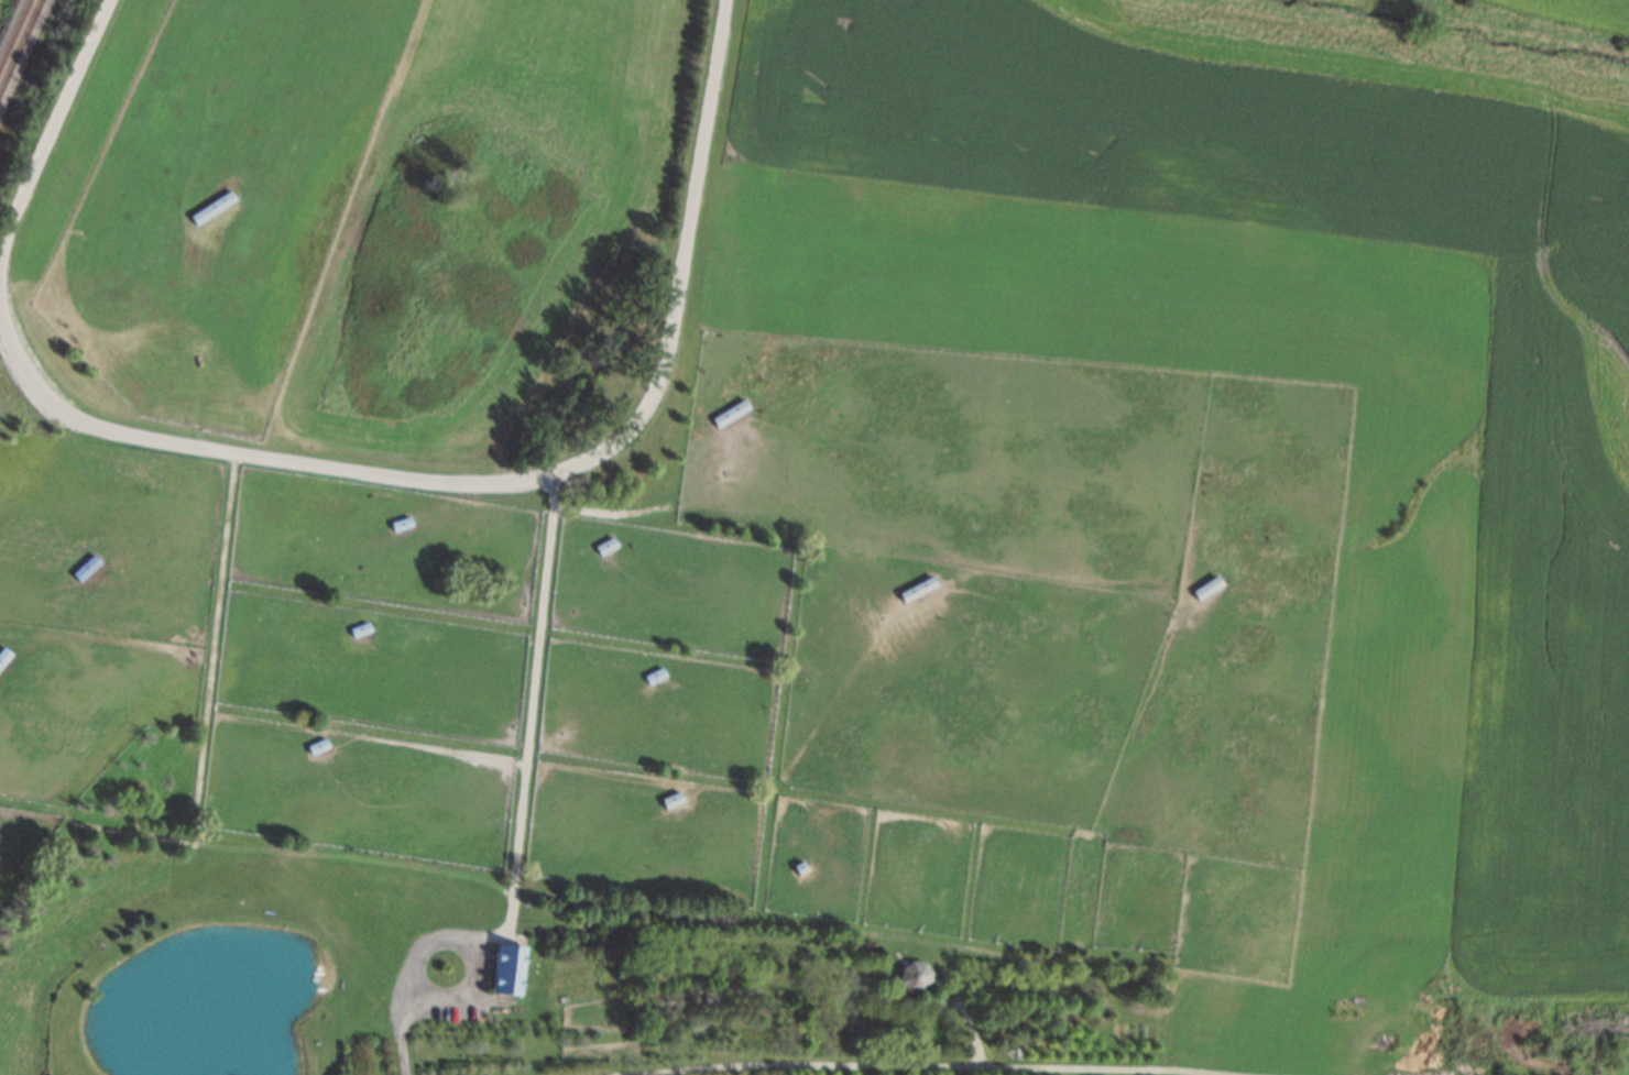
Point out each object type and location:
railway: (14, 32)
railway: (20, 45)
building: (211, 208)
building: (731, 413)
road: (352, 470)
building: (402, 525)
building: (606, 547)
building: (86, 569)
building: (1206, 589)
building: (918, 590)
building: (362, 632)
building: (3, 657)
building: (656, 678)
road: (529, 719)
building: (318, 747)
building: (673, 800)
building: (799, 867)
road: (473, 942)
building: (507, 968)
road: (969, 1022)
road: (403, 1044)
road: (932, 1066)

